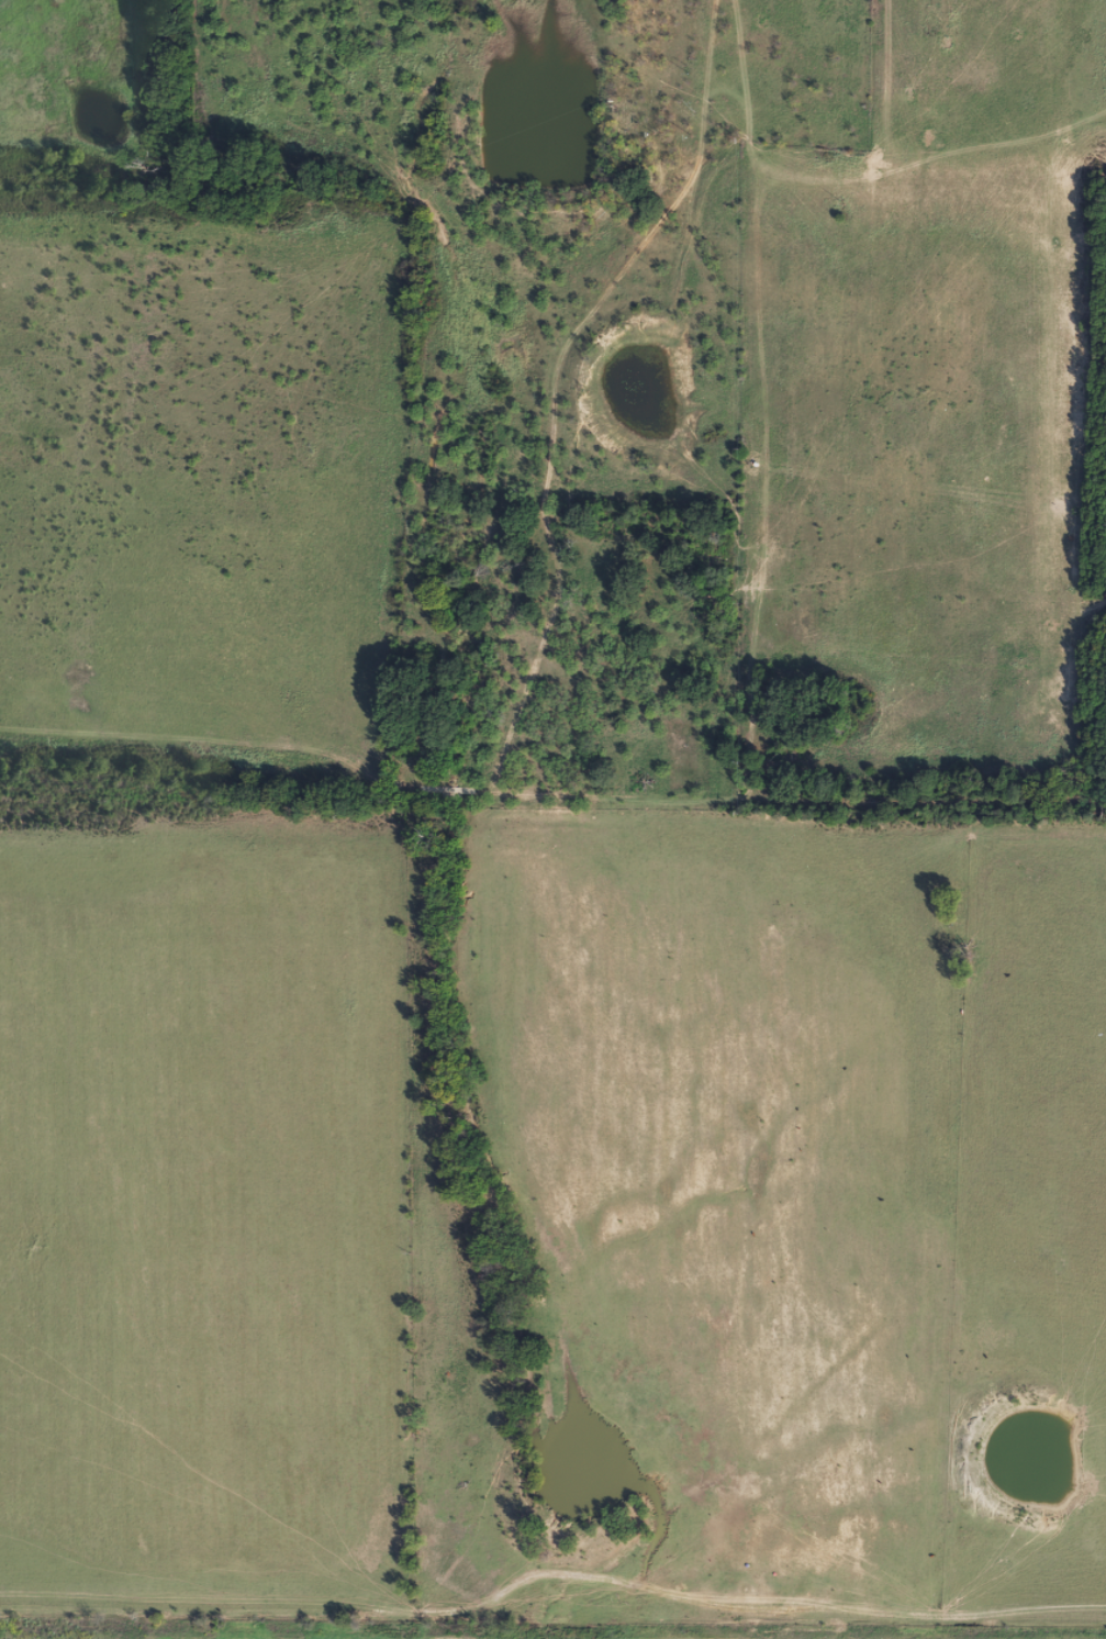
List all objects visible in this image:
road: (898, 1379)

